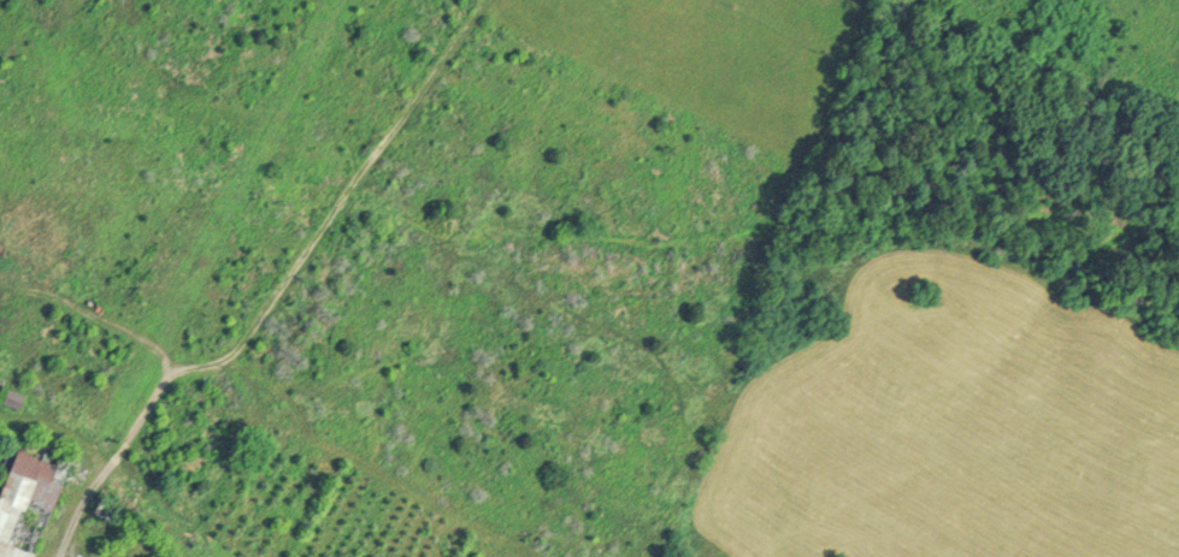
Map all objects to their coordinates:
road: (95, 285)
building: (10, 397)
road: (132, 460)
building: (23, 496)

